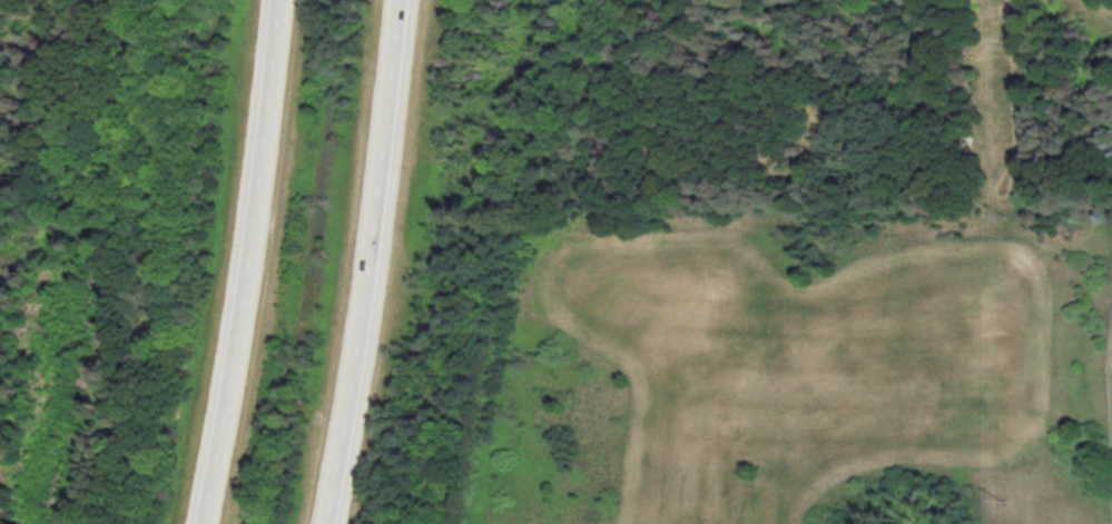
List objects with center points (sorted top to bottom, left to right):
road: (229, 263)
road: (357, 263)

